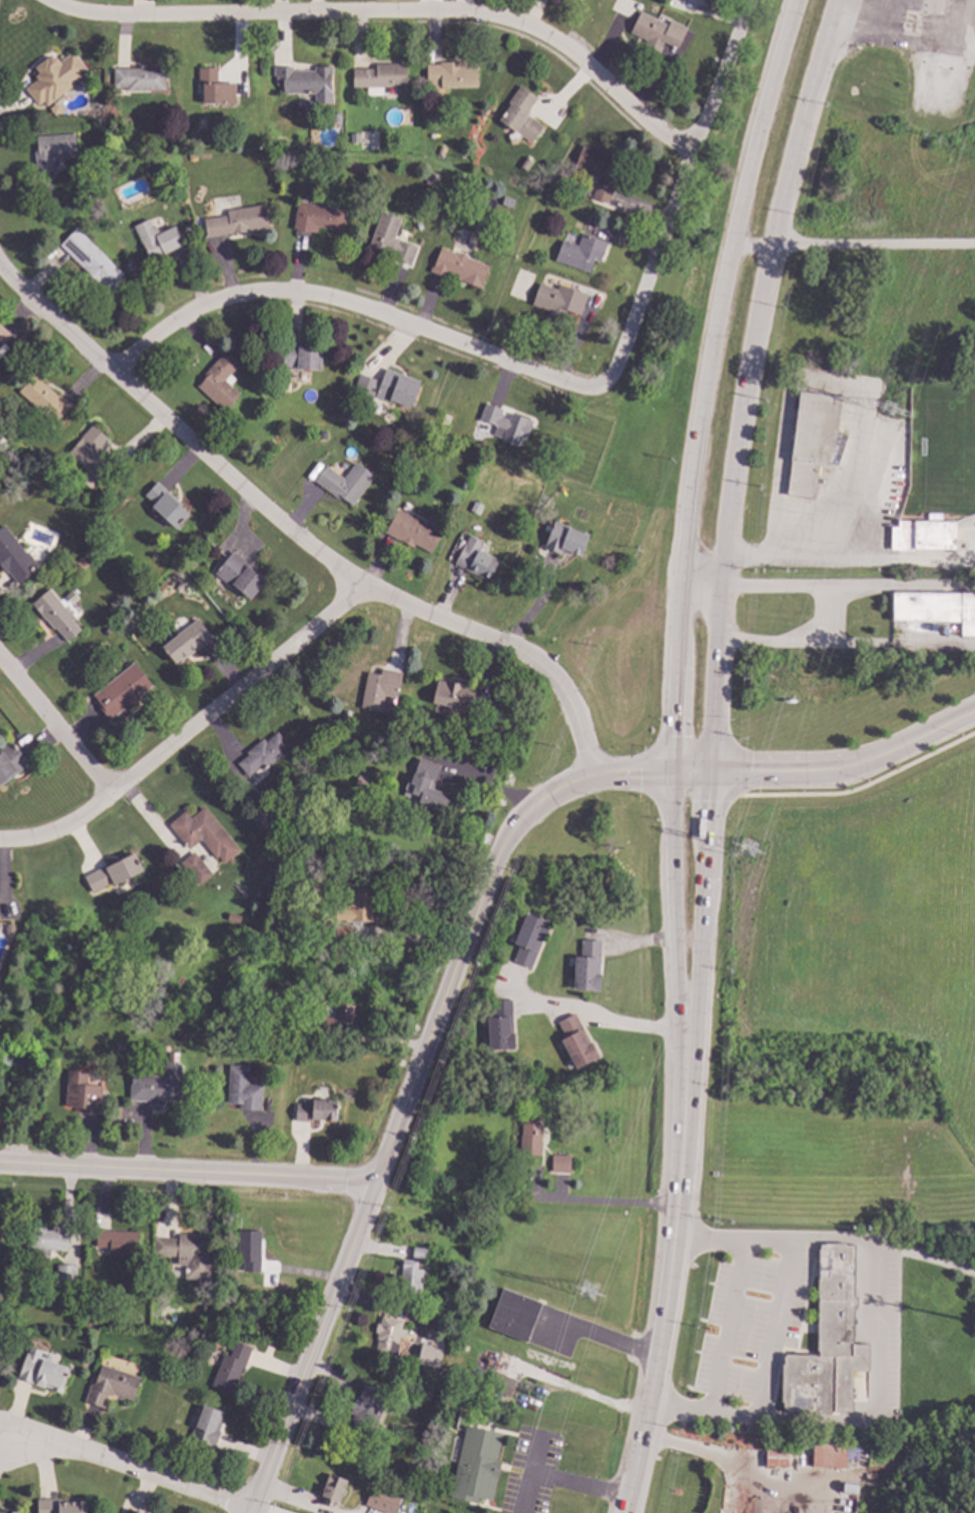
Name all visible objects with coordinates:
road: (389, 14)
building: (656, 33)
road: (906, 36)
building: (451, 75)
building: (380, 76)
building: (54, 78)
building: (139, 79)
building: (303, 86)
building: (215, 88)
building: (520, 114)
road: (798, 122)
building: (49, 152)
building: (599, 172)
road: (677, 197)
building: (317, 218)
building: (237, 221)
building: (155, 237)
building: (391, 241)
road: (750, 245)
road: (871, 246)
building: (580, 252)
building: (86, 254)
building: (459, 266)
building: (558, 299)
road: (346, 304)
building: (0, 345)
building: (301, 356)
building: (219, 381)
building: (386, 388)
building: (45, 399)
power tower: (889, 412)
building: (509, 425)
building: (811, 439)
building: (93, 453)
building: (345, 483)
building: (167, 506)
road: (687, 511)
building: (412, 531)
building: (922, 535)
road: (303, 538)
building: (566, 539)
building: (14, 557)
road: (797, 557)
building: (475, 558)
building: (239, 575)
road: (700, 583)
road: (846, 588)
building: (936, 608)
building: (54, 616)
road: (818, 617)
road: (715, 638)
building: (185, 641)
road: (844, 646)
building: (380, 690)
building: (118, 693)
building: (461, 697)
road: (55, 724)
road: (187, 729)
building: (262, 754)
building: (12, 760)
road: (848, 766)
building: (426, 782)
building: (260, 820)
building: (204, 834)
power tower: (750, 851)
building: (194, 870)
building: (112, 873)
building: (353, 911)
building: (528, 939)
building: (587, 966)
road: (589, 1013)
building: (337, 1017)
building: (499, 1026)
building: (575, 1041)
road: (416, 1069)
building: (157, 1085)
building: (242, 1088)
building: (81, 1093)
building: (316, 1111)
building: (6, 1120)
building: (530, 1136)
building: (559, 1163)
road: (186, 1172)
road: (597, 1204)
building: (481, 1227)
building: (45, 1240)
building: (117, 1242)
building: (248, 1249)
building: (186, 1253)
building: (418, 1253)
road: (668, 1274)
building: (65, 1276)
building: (409, 1276)
power tower: (588, 1293)
building: (513, 1314)
building: (85, 1321)
road: (727, 1328)
road: (775, 1331)
building: (386, 1336)
road: (604, 1339)
building: (826, 1342)
road: (873, 1346)
building: (425, 1355)
building: (407, 1358)
building: (229, 1367)
building: (41, 1371)
building: (110, 1385)
building: (366, 1411)
building: (206, 1425)
building: (828, 1454)
building: (774, 1456)
road: (535, 1458)
building: (475, 1463)
road: (737, 1464)
road: (124, 1470)
road: (560, 1483)
building: (332, 1489)
building: (381, 1498)
road: (295, 1500)
building: (61, 1506)
building: (8, 1511)
building: (131, 1511)

